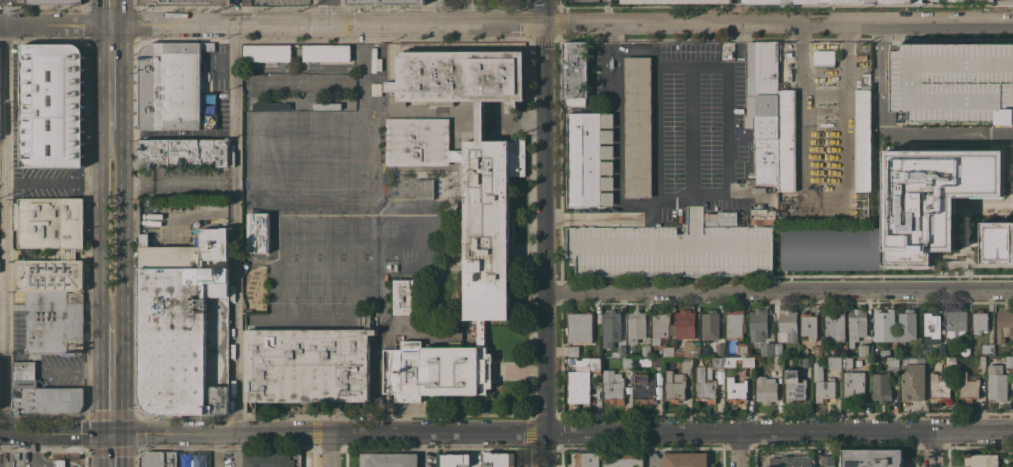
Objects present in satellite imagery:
building: (962, 0)
building: (680, 1)
building: (783, 1)
building: (849, 1)
building: (890, 1)
building: (916, 1)
building: (53, 2)
building: (184, 2)
building: (384, 2)
road: (1, 12)
road: (111, 12)
road: (233, 12)
road: (323, 12)
road: (435, 12)
road: (216, 24)
road: (667, 24)
road: (55, 25)
building: (267, 53)
building: (326, 53)
building: (824, 58)
building: (575, 73)
road: (111, 78)
building: (953, 82)
parking garage: (953, 82)
building: (170, 85)
building: (52, 105)
building: (765, 108)
parking lot: (673, 121)
building: (636, 126)
road: (727, 127)
road: (689, 129)
road: (897, 132)
building: (150, 134)
building: (862, 138)
building: (416, 141)
building: (786, 141)
building: (184, 153)
road: (657, 153)
building: (584, 159)
building: (476, 162)
parking lot: (38, 172)
road: (58, 182)
building: (424, 188)
road: (823, 194)
building: (901, 213)
road: (173, 218)
building: (720, 218)
building: (769, 221)
building: (49, 222)
building: (196, 223)
road: (112, 226)
road: (234, 228)
building: (258, 232)
road: (546, 233)
building: (996, 242)
road: (5, 245)
building: (669, 253)
parking lot: (669, 253)
building: (49, 275)
road: (780, 293)
building: (404, 296)
building: (956, 319)
building: (54, 321)
building: (979, 321)
building: (684, 323)
building: (1005, 323)
building: (710, 324)
building: (184, 325)
building: (788, 325)
building: (809, 325)
building: (834, 325)
building: (856, 325)
building: (884, 325)
building: (906, 325)
building: (635, 326)
building: (659, 326)
building: (931, 326)
building: (579, 327)
building: (611, 327)
building: (736, 328)
building: (759, 331)
building: (718, 348)
building: (988, 348)
building: (688, 349)
building: (777, 349)
building: (941, 349)
building: (572, 350)
building: (645, 350)
building: (865, 350)
building: (964, 350)
building: (668, 351)
building: (618, 352)
building: (884, 352)
building: (925, 352)
building: (806, 361)
building: (892, 361)
building: (1009, 361)
building: (585, 362)
building: (627, 362)
building: (657, 362)
building: (717, 362)
building: (834, 362)
building: (847, 362)
building: (982, 362)
building: (686, 363)
building: (747, 363)
building: (778, 363)
building: (950, 363)
building: (307, 365)
building: (434, 370)
road: (113, 377)
building: (912, 381)
building: (996, 383)
building: (822, 384)
building: (705, 385)
building: (578, 386)
building: (613, 386)
building: (675, 386)
building: (794, 386)
building: (854, 386)
building: (968, 386)
building: (647, 387)
building: (735, 387)
building: (881, 387)
building: (939, 388)
building: (766, 389)
building: (42, 394)
road: (563, 433)
road: (3, 434)
road: (60, 434)
traffic signals: (114, 434)
road: (113, 450)
road: (215, 450)
road: (334, 450)
road: (743, 450)
road: (938, 450)
building: (871, 457)
building: (158, 459)
building: (192, 459)
building: (499, 459)
building: (587, 459)
building: (622, 459)
building: (685, 459)
building: (272, 460)
building: (388, 460)
building: (454, 460)
building: (981, 460)
building: (791, 461)
building: (827, 461)
building: (60, 463)

